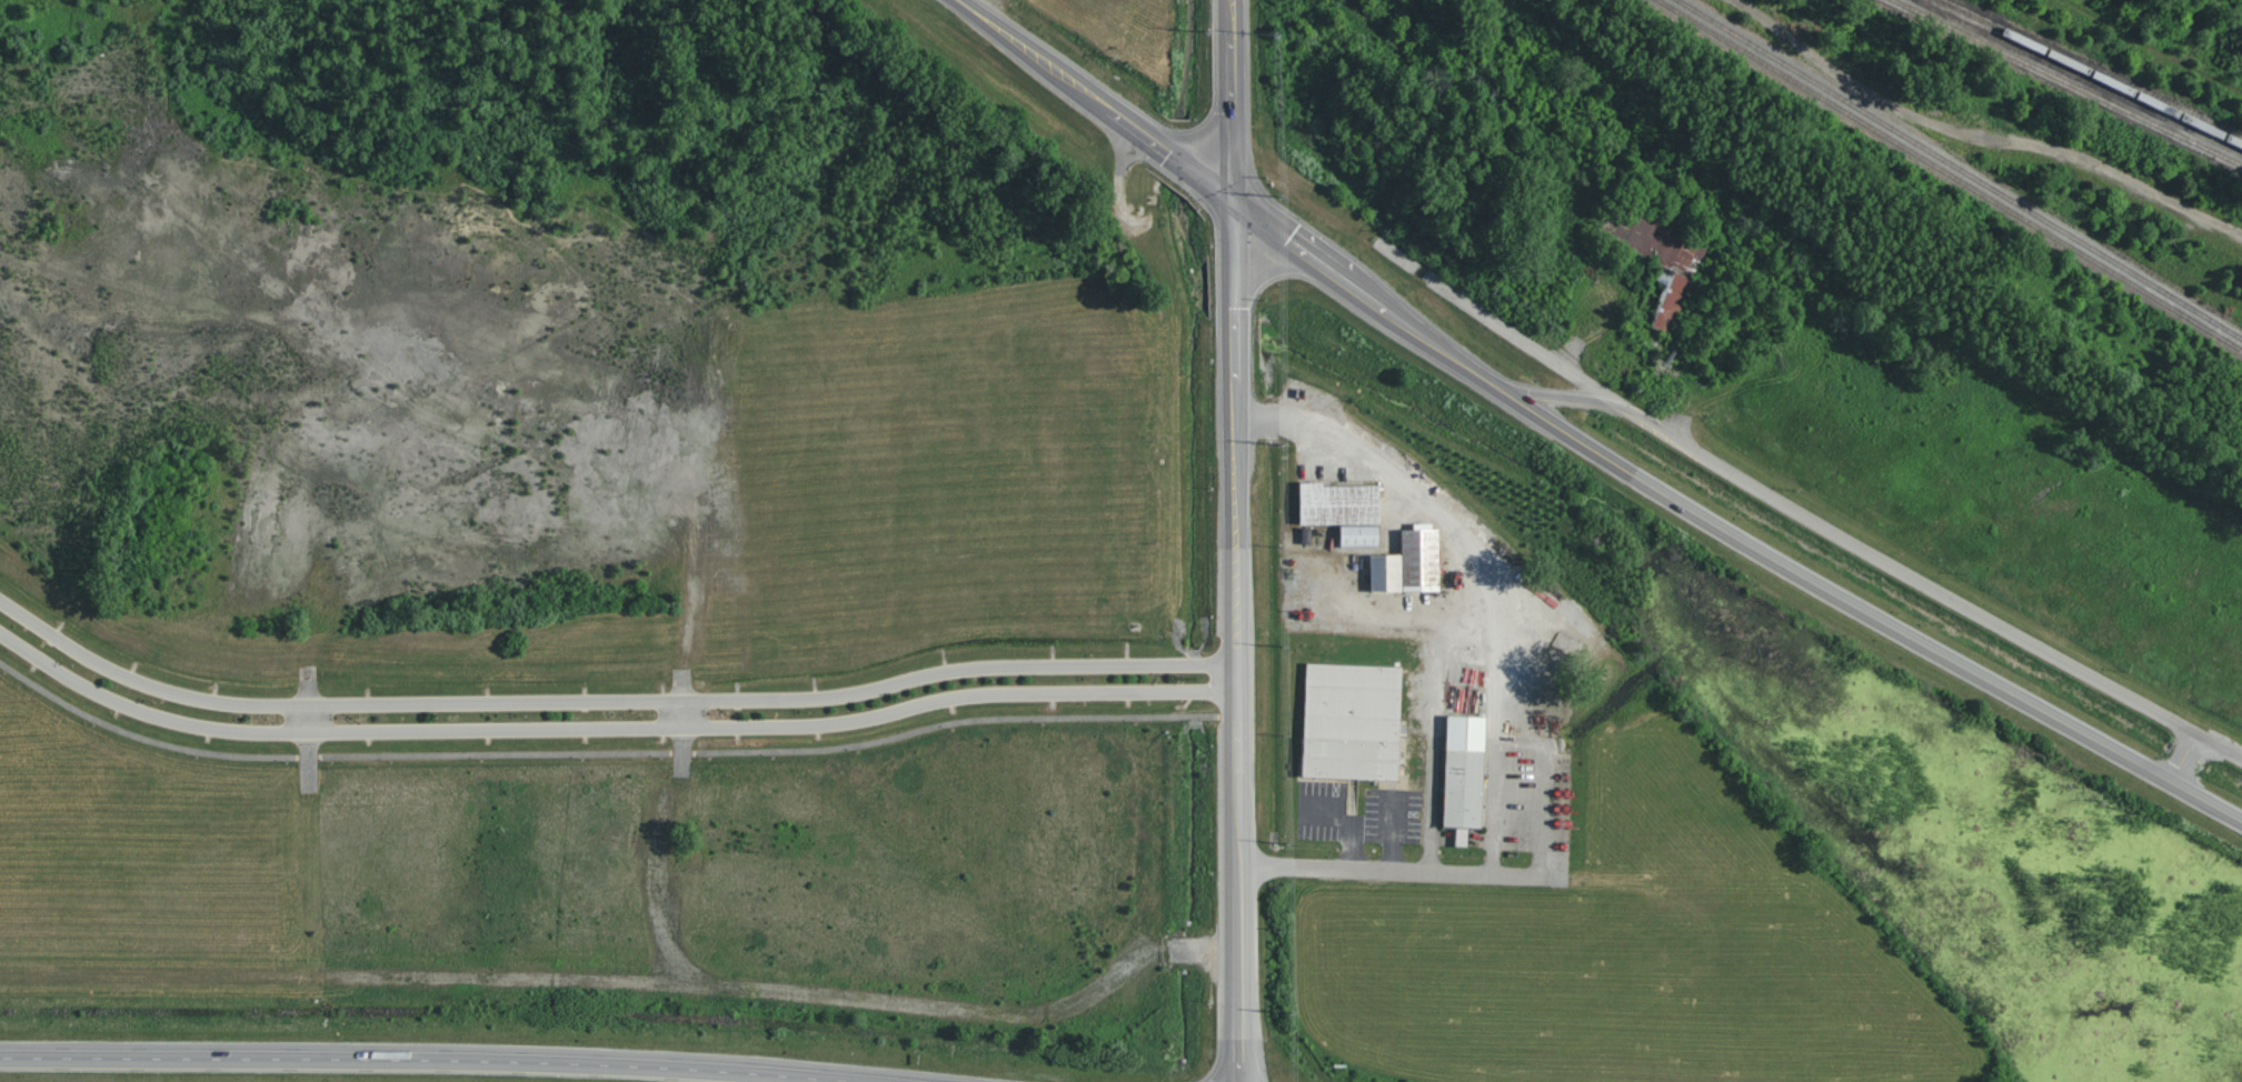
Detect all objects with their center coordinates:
road: (1229, 17)
road: (1035, 53)
railway: (2089, 71)
road: (1233, 114)
road: (1124, 118)
road: (1983, 129)
road: (1202, 131)
railway: (1962, 169)
railway: (1943, 192)
road: (1245, 202)
road: (1235, 288)
road: (1372, 298)
building: (1670, 300)
road: (1447, 350)
building: (1345, 510)
building: (1409, 564)
road: (1866, 611)
road: (606, 701)
road: (681, 714)
road: (309, 719)
road: (1539, 719)
building: (1353, 722)
road: (607, 728)
road: (1234, 731)
road: (608, 753)
road: (2183, 758)
building: (1465, 771)
building: (1462, 836)
road: (442, 1054)

